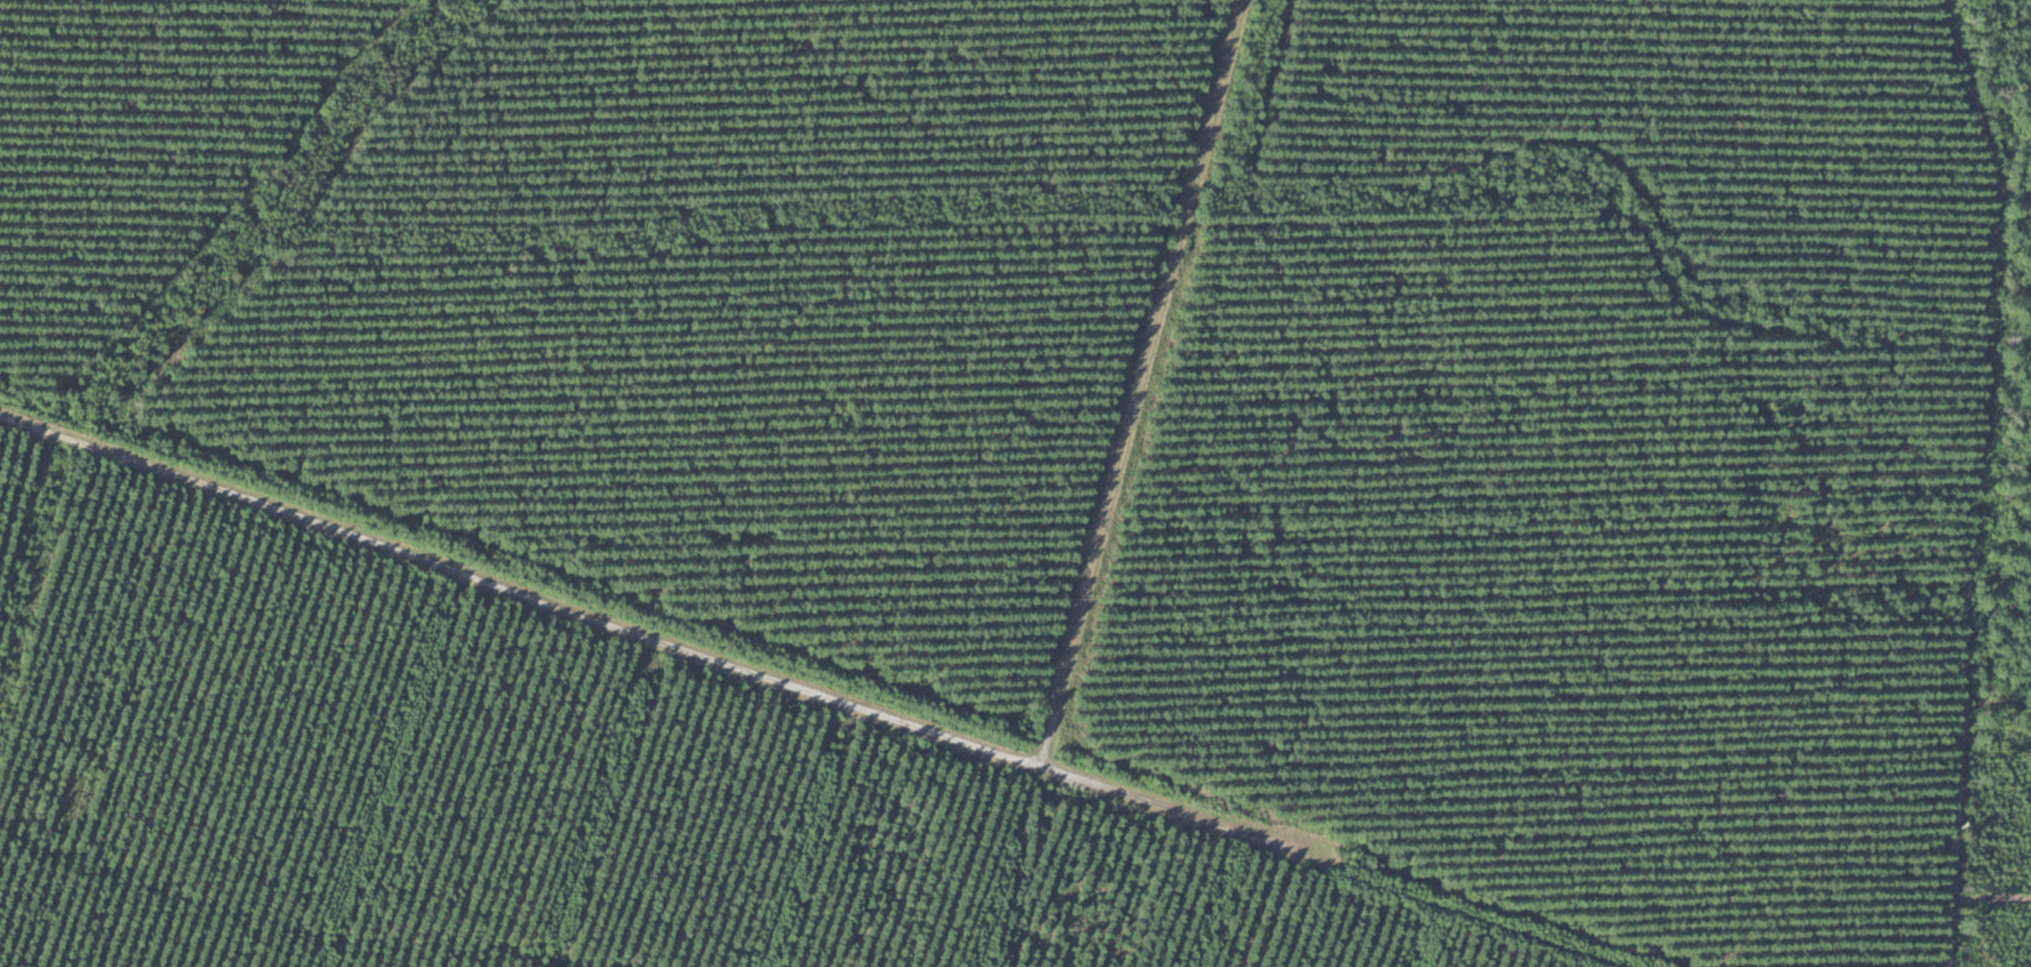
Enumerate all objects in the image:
road: (668, 640)

